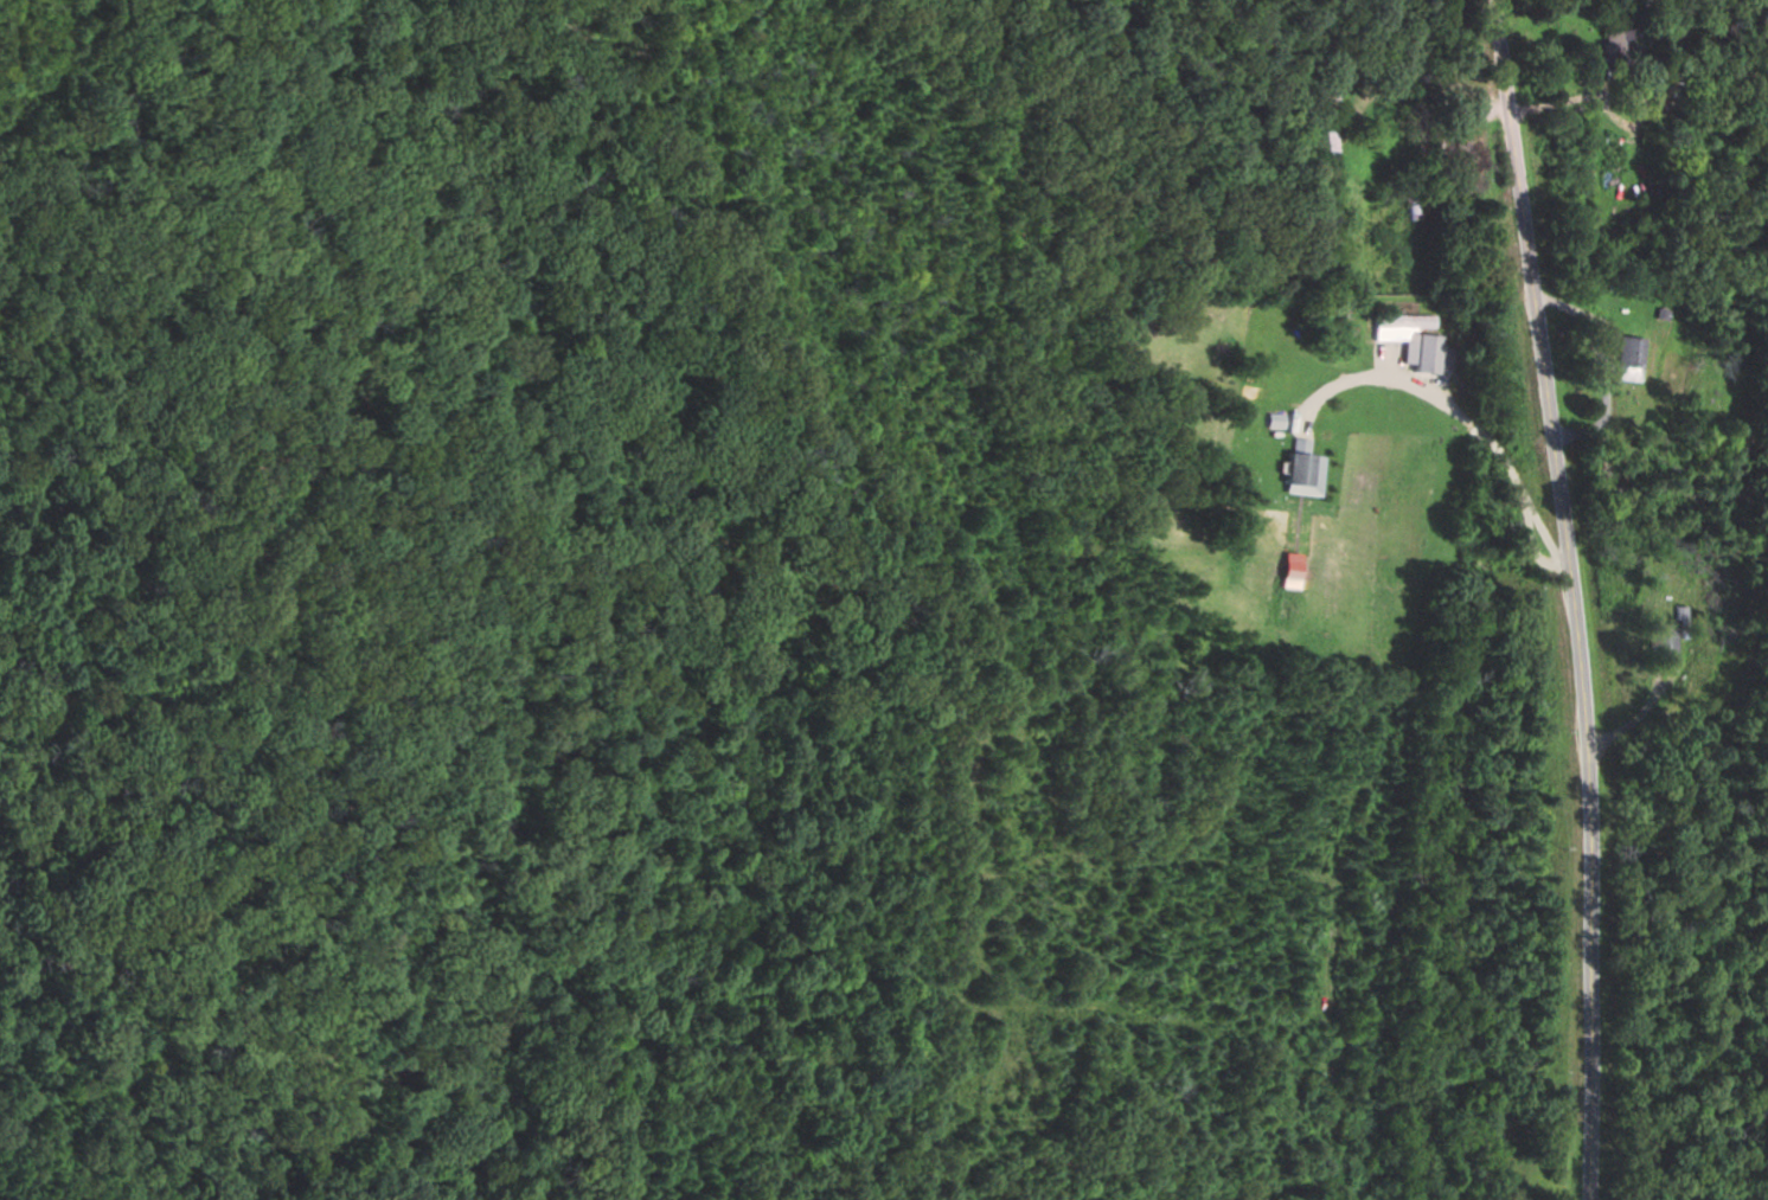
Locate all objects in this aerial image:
building: (1335, 139)
building: (1408, 320)
building: (1632, 358)
road: (1369, 370)
building: (1258, 425)
building: (1307, 468)
road: (1570, 597)

